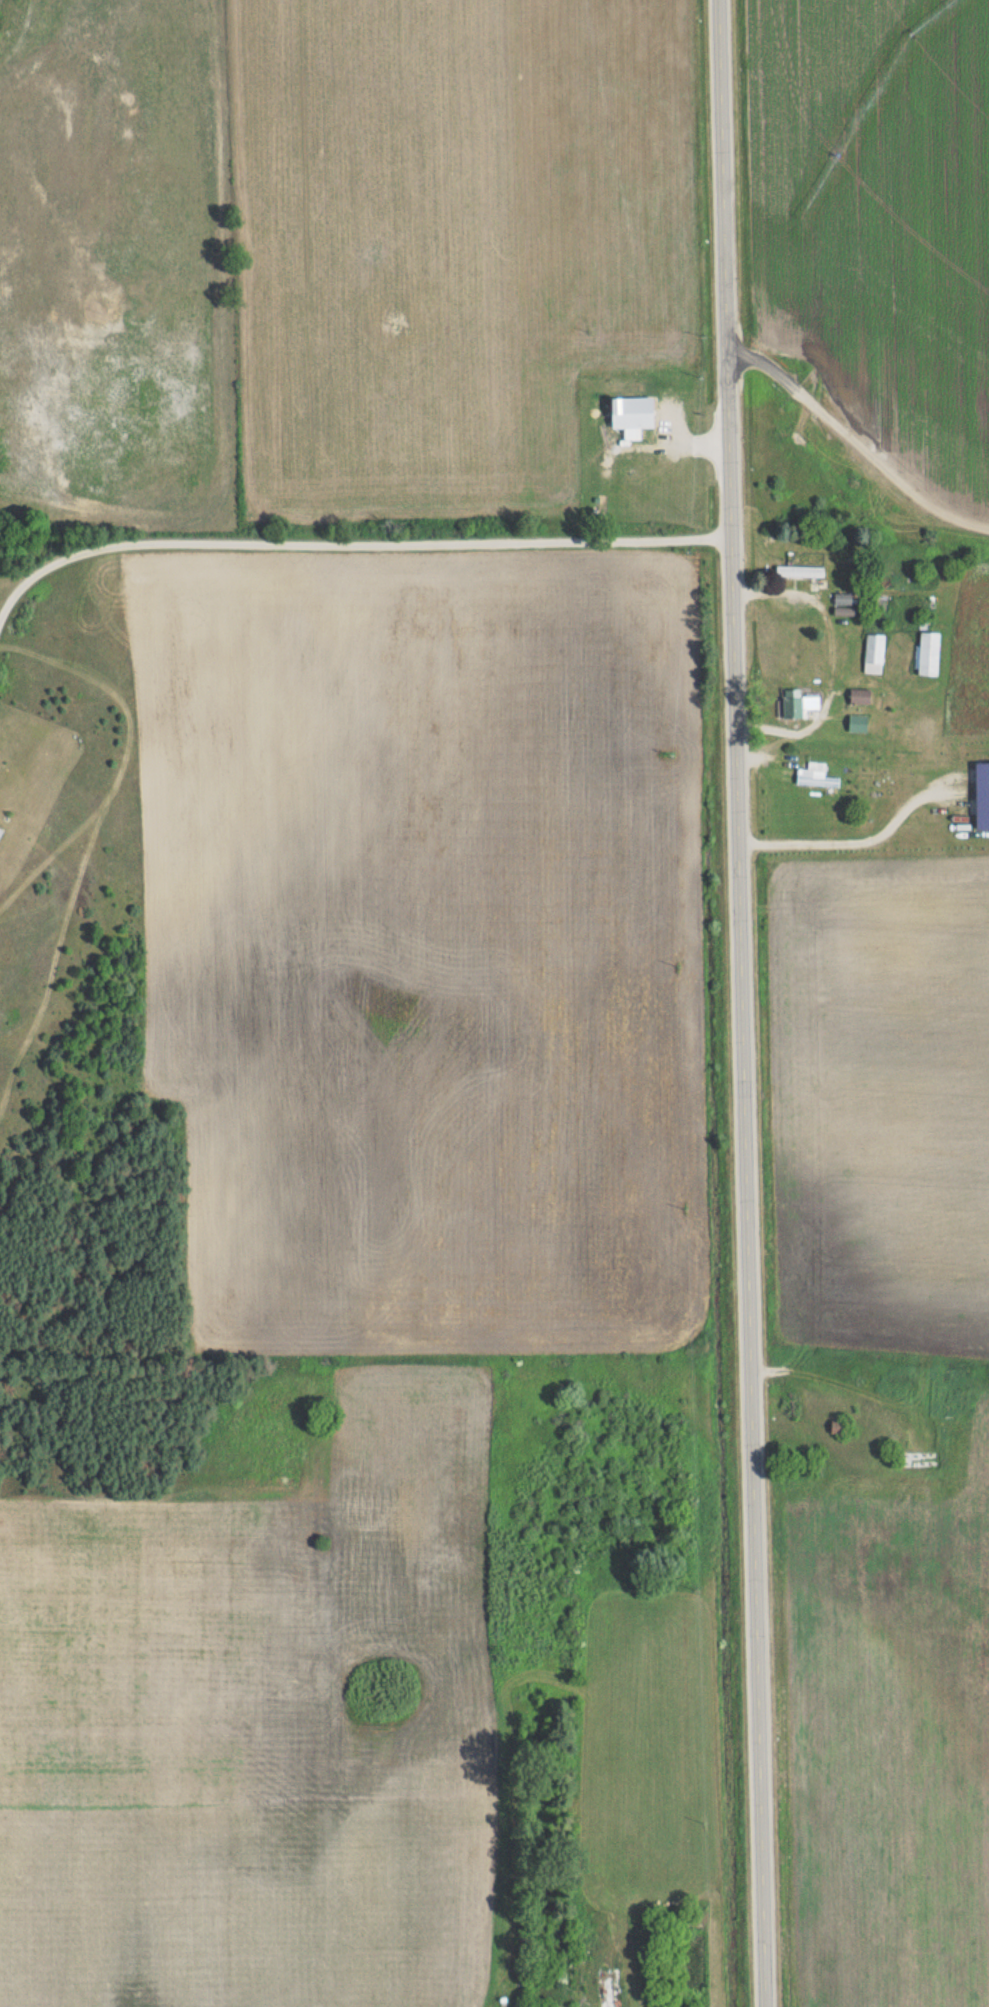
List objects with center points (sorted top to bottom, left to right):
road: (357, 542)
building: (799, 571)
building: (842, 598)
building: (874, 653)
building: (927, 653)
road: (831, 661)
building: (860, 696)
building: (798, 703)
building: (857, 723)
building: (815, 775)
road: (782, 780)
building: (982, 796)
road: (855, 840)
road: (742, 1003)

